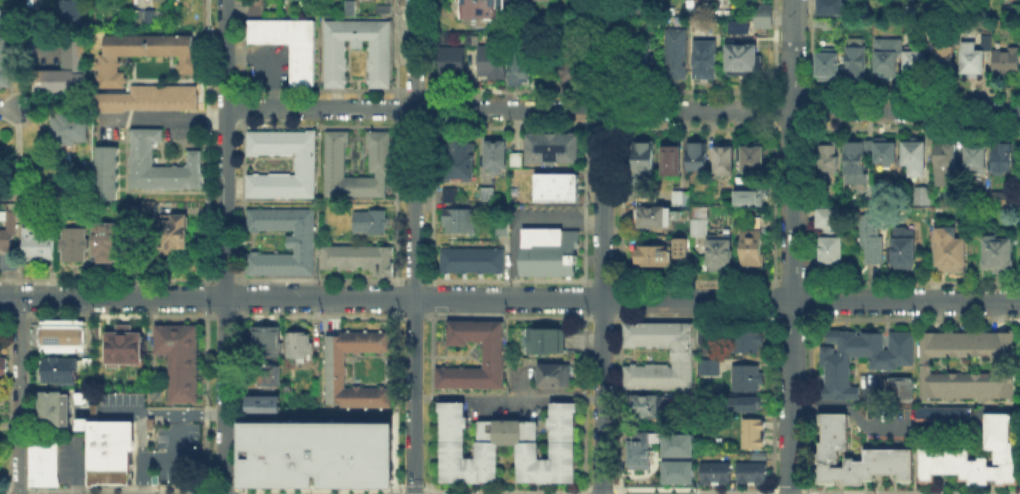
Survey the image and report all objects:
building: (542, 1)
building: (836, 6)
building: (353, 9)
building: (483, 9)
building: (637, 10)
building: (387, 11)
building: (761, 14)
building: (72, 15)
building: (3, 16)
road: (36, 20)
building: (147, 20)
building: (709, 23)
building: (736, 25)
building: (638, 29)
road: (241, 48)
road: (429, 48)
road: (395, 49)
road: (584, 49)
road: (619, 49)
road: (772, 49)
road: (811, 49)
parking lot: (39, 53)
building: (144, 53)
road: (34, 55)
building: (971, 55)
building: (674, 56)
building: (890, 56)
building: (450, 59)
building: (743, 59)
building: (5, 60)
road: (238, 61)
building: (1006, 61)
building: (706, 62)
building: (494, 63)
building: (946, 64)
building: (920, 65)
parking lot: (272, 66)
building: (304, 66)
building: (523, 66)
building: (828, 66)
building: (856, 66)
road: (272, 67)
building: (337, 68)
building: (573, 68)
building: (67, 73)
road: (33, 79)
road: (31, 96)
road: (412, 96)
building: (150, 97)
road: (29, 98)
road: (275, 98)
road: (241, 106)
road: (8, 107)
road: (401, 108)
road: (423, 108)
road: (584, 108)
road: (619, 108)
road: (772, 108)
road: (811, 108)
road: (622, 109)
road: (17, 115)
road: (166, 118)
road: (8, 120)
road: (413, 120)
building: (67, 127)
road: (205, 142)
road: (413, 148)
road: (602, 149)
building: (869, 149)
building: (557, 150)
building: (380, 154)
building: (493, 155)
building: (886, 155)
building: (915, 155)
road: (17, 158)
building: (456, 158)
building: (698, 158)
building: (724, 159)
building: (753, 159)
building: (829, 159)
building: (855, 159)
building: (1003, 159)
building: (643, 160)
building: (978, 160)
building: (518, 161)
building: (673, 162)
building: (162, 165)
building: (306, 167)
building: (946, 167)
building: (109, 175)
building: (558, 189)
building: (448, 193)
road: (35, 194)
building: (642, 195)
building: (678, 196)
building: (923, 197)
building: (752, 199)
road: (241, 200)
road: (394, 200)
road: (810, 200)
road: (430, 201)
road: (619, 201)
road: (584, 202)
road: (772, 202)
building: (996, 202)
building: (147, 207)
building: (651, 215)
building: (456, 219)
building: (13, 221)
road: (519, 222)
building: (698, 222)
building: (372, 224)
building: (175, 235)
building: (298, 240)
building: (831, 240)
building: (6, 241)
building: (872, 242)
building: (108, 244)
building: (753, 244)
building: (39, 246)
road: (225, 246)
building: (679, 246)
building: (76, 247)
road: (792, 247)
building: (905, 251)
building: (718, 252)
building: (549, 254)
building: (650, 255)
building: (999, 255)
building: (469, 258)
building: (951, 258)
building: (361, 260)
building: (10, 263)
road: (107, 279)
road: (224, 279)
road: (318, 279)
road: (413, 279)
road: (506, 280)
road: (600, 280)
road: (8, 281)
road: (26, 281)
road: (694, 281)
road: (792, 281)
road: (913, 281)
road: (8, 296)
road: (26, 296)
road: (205, 296)
road: (240, 296)
road: (808, 296)
road: (206, 297)
road: (394, 297)
road: (431, 297)
road: (506, 298)
road: (619, 298)
road: (583, 299)
road: (771, 299)
road: (810, 300)
road: (6, 314)
road: (18, 314)
road: (119, 314)
road: (223, 315)
road: (317, 316)
road: (412, 316)
road: (506, 316)
road: (602, 317)
road: (695, 317)
road: (791, 318)
road: (912, 319)
building: (834, 337)
building: (65, 338)
building: (899, 339)
building: (850, 341)
building: (267, 342)
building: (747, 342)
building: (549, 343)
building: (862, 343)
building: (121, 346)
building: (301, 346)
building: (875, 349)
building: (831, 356)
building: (896, 357)
building: (683, 358)
building: (181, 359)
building: (493, 359)
building: (924, 364)
building: (89, 365)
road: (507, 365)
building: (706, 366)
building: (2, 367)
building: (835, 369)
building: (337, 371)
building: (63, 372)
building: (270, 376)
building: (555, 377)
building: (835, 379)
building: (748, 380)
parking lot: (870, 385)
building: (898, 388)
building: (836, 391)
road: (18, 395)
road: (412, 396)
road: (507, 396)
road: (602, 396)
road: (204, 399)
road: (7, 400)
road: (239, 401)
road: (837, 401)
road: (26, 402)
road: (394, 402)
road: (430, 402)
road: (619, 402)
road: (582, 403)
building: (743, 403)
road: (770, 403)
road: (807, 403)
building: (263, 404)
building: (648, 405)
building: (55, 409)
parking lot: (888, 411)
building: (940, 411)
road: (182, 412)
building: (998, 417)
building: (831, 418)
building: (150, 422)
building: (751, 424)
building: (832, 427)
building: (996, 428)
road: (906, 429)
road: (140, 433)
building: (507, 433)
building: (832, 435)
building: (996, 436)
building: (751, 439)
building: (676, 444)
building: (829, 444)
building: (998, 446)
building: (639, 447)
building: (109, 449)
building: (311, 450)
building: (756, 454)
building: (825, 456)
building: (1004, 457)
road: (171, 458)
building: (874, 460)
building: (883, 460)
building: (892, 460)
building: (944, 460)
building: (42, 462)
building: (866, 462)
building: (959, 462)
building: (927, 463)
building: (904, 464)
road: (74, 466)
building: (983, 469)
building: (845, 470)
building: (676, 471)
building: (706, 471)
building: (720, 471)
building: (742, 471)
building: (756, 471)
building: (857, 471)
building: (972, 471)
building: (819, 472)
building: (830, 472)
building: (1011, 472)
building: (998, 473)
building: (343, 477)
building: (374, 477)
building: (154, 478)
road: (313, 489)
road: (398, 489)
road: (411, 489)
road: (504, 489)
road: (693, 489)
road: (121, 490)
road: (224, 490)
road: (599, 490)
road: (6, 491)
road: (19, 491)
road: (7, 492)
road: (205, 492)
road: (788, 492)
road: (910, 492)
road: (239, 493)
road: (618, 493)

